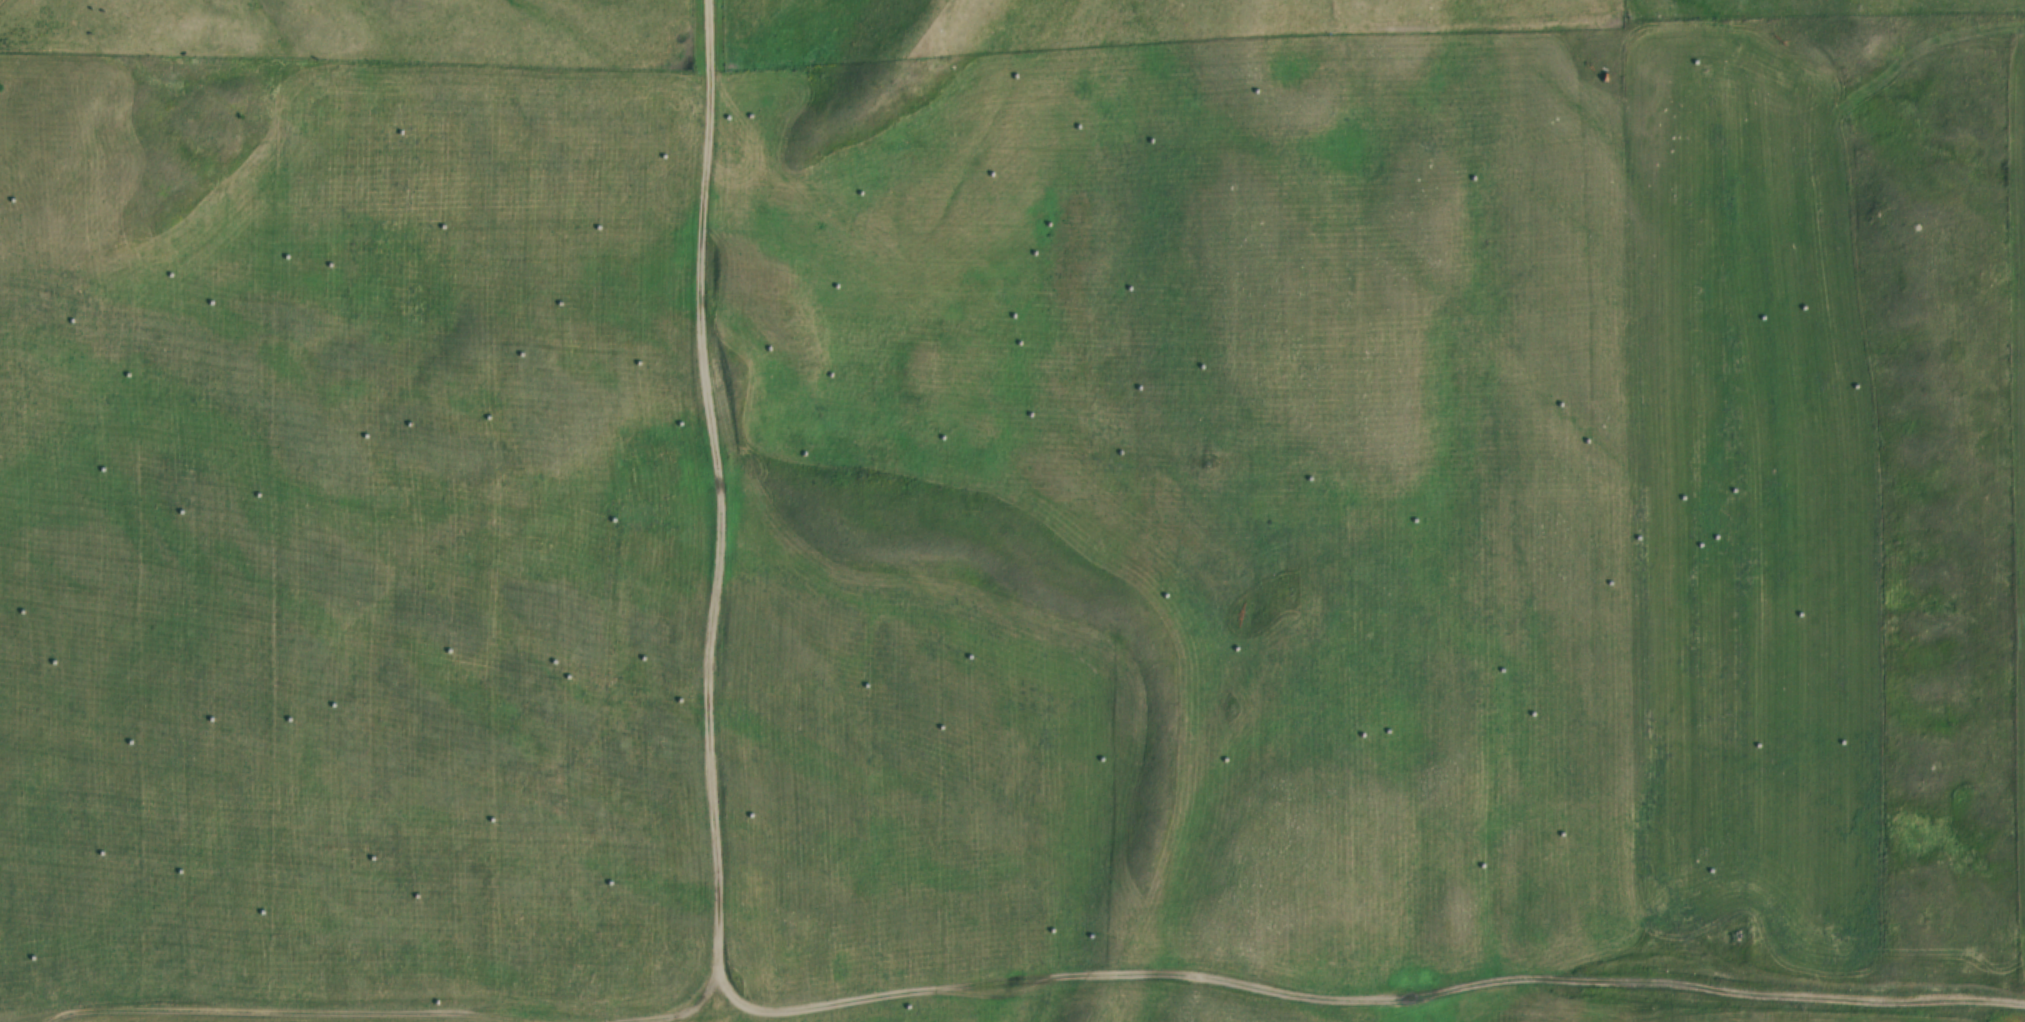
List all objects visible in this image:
road: (722, 843)
road: (736, 990)
road: (1389, 996)

